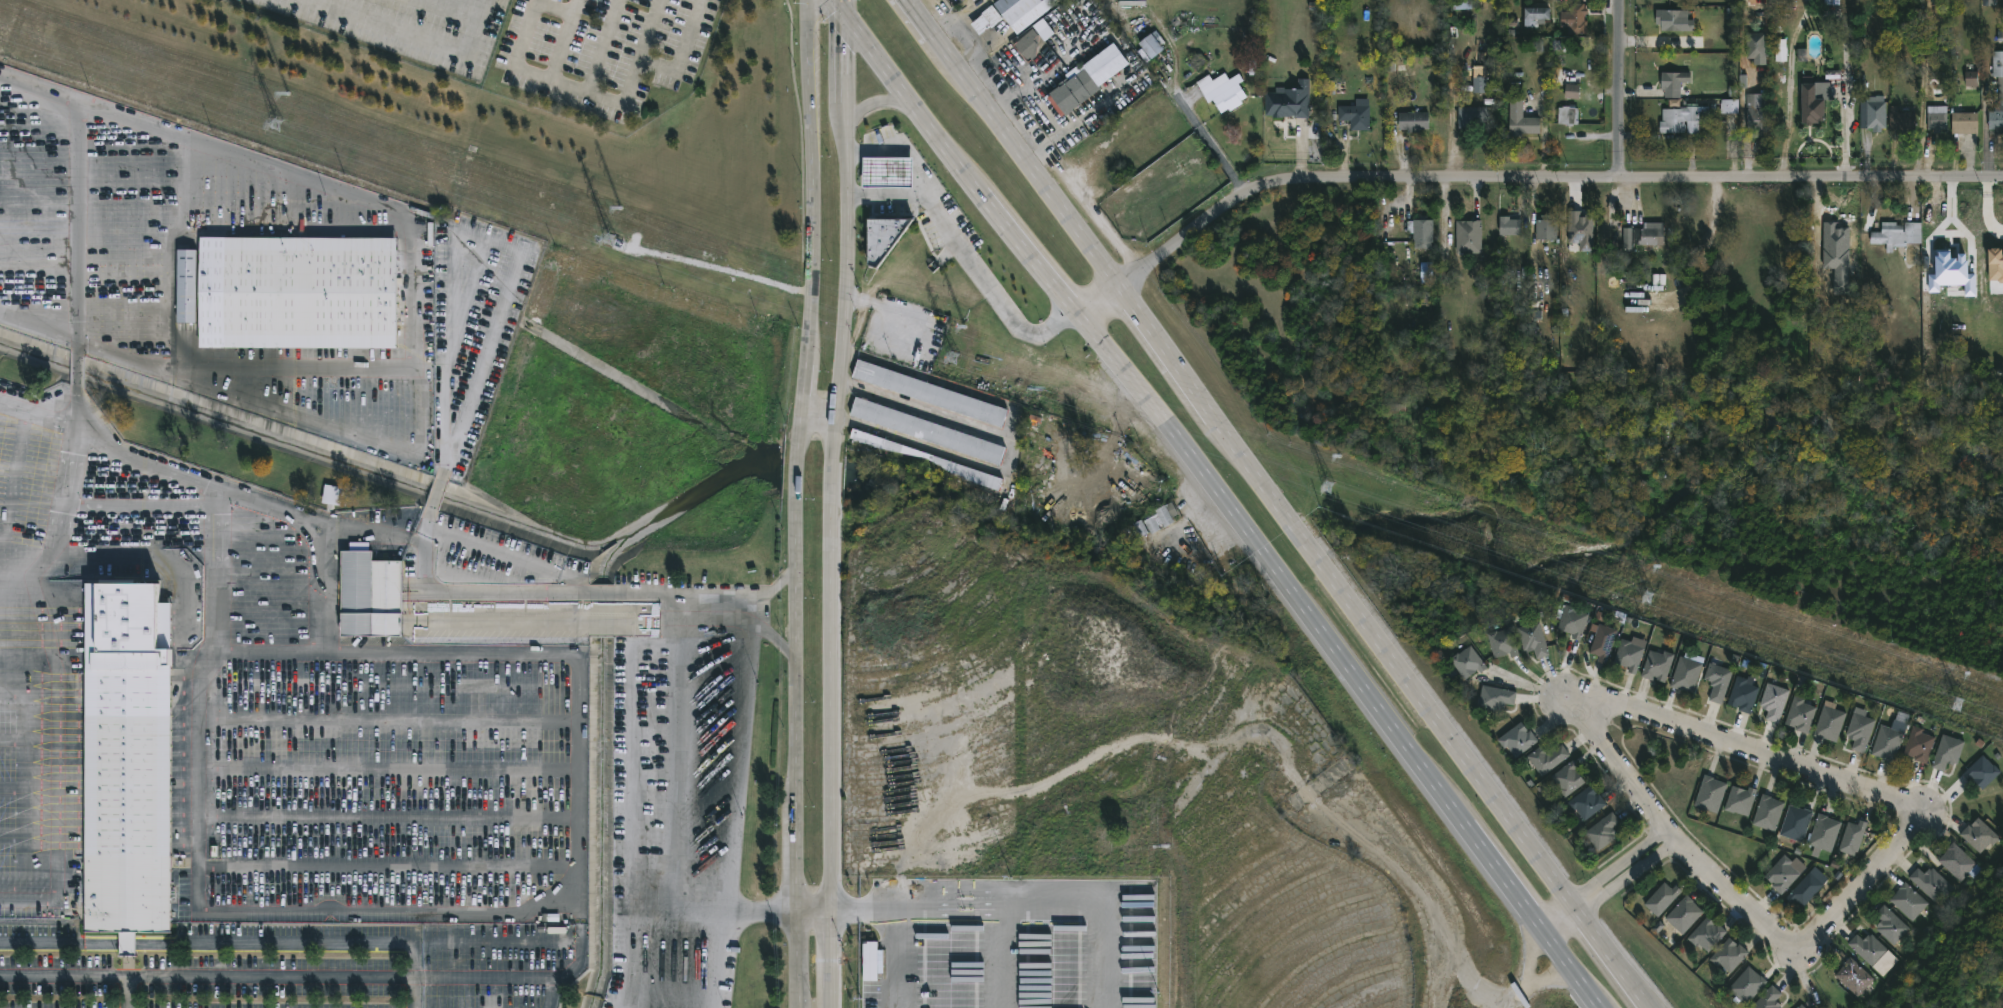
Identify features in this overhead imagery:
road: (846, 7)
building: (1015, 8)
building: (1538, 13)
road: (1819, 13)
traffic signals: (847, 15)
building: (1578, 18)
building: (986, 19)
building: (1674, 21)
building: (1152, 44)
road: (603, 45)
building: (1033, 45)
building: (1757, 46)
building: (1780, 50)
parking lot: (603, 51)
building: (1971, 78)
building: (1087, 79)
building: (1675, 83)
building: (1479, 84)
road: (1616, 90)
building: (2000, 90)
building: (1223, 91)
building: (1571, 91)
building: (1815, 99)
road: (619, 100)
road: (883, 101)
building: (1289, 101)
road: (1045, 106)
building: (1726, 106)
building: (1874, 113)
building: (1757, 114)
building: (1568, 115)
building: (1356, 116)
building: (1472, 117)
building: (1937, 117)
building: (1684, 118)
building: (1522, 119)
building: (1902, 119)
building: (1414, 121)
building: (1965, 122)
power tower: (274, 128)
road: (1214, 149)
building: (887, 171)
gas station: (887, 171)
road: (82, 180)
road: (1518, 181)
road: (815, 213)
building: (1511, 225)
building: (1547, 226)
building: (1831, 228)
road: (850, 230)
building: (1581, 230)
building: (1421, 231)
building: (1898, 234)
building: (884, 236)
building: (1469, 236)
road: (484, 238)
building: (1639, 238)
power tower: (610, 245)
road: (967, 257)
building: (1833, 261)
building: (1995, 265)
building: (1426, 272)
building: (1952, 273)
road: (415, 275)
building: (185, 285)
building: (297, 291)
road: (39, 325)
building: (424, 342)
power tower: (954, 360)
road: (77, 368)
building: (929, 393)
road: (76, 402)
road: (38, 404)
building: (1392, 404)
road: (925, 410)
road: (818, 418)
building: (927, 431)
road: (1012, 437)
road: (797, 462)
building: (967, 473)
park: (1704, 474)
road: (831, 491)
road: (437, 494)
power tower: (1329, 494)
building: (332, 495)
road: (1227, 500)
road: (1279, 503)
road: (71, 515)
building: (1160, 517)
road: (427, 520)
building: (359, 546)
road: (545, 556)
road: (772, 590)
building: (370, 593)
power tower: (1647, 606)
building: (1574, 621)
road: (773, 637)
building: (1533, 639)
road: (633, 642)
building: (1503, 642)
building: (1603, 643)
road: (267, 649)
road: (376, 650)
building: (1630, 654)
building: (1468, 661)
building: (1659, 664)
building: (1687, 674)
building: (1720, 680)
building: (1744, 694)
building: (1497, 696)
building: (1774, 701)
power tower: (1953, 710)
building: (1800, 715)
building: (1830, 723)
building: (1860, 731)
building: (1519, 739)
road: (1748, 742)
building: (1888, 743)
building: (1920, 745)
building: (1948, 751)
road: (798, 753)
building: (126, 757)
building: (1549, 757)
building: (1983, 771)
road: (831, 773)
road: (681, 776)
building: (1570, 778)
building: (1711, 794)
building: (1742, 799)
building: (1588, 802)
building: (1769, 812)
building: (1797, 823)
building: (1604, 830)
road: (1673, 833)
building: (1824, 834)
building: (1980, 835)
building: (1854, 836)
building: (1960, 861)
building: (1785, 872)
road: (1605, 875)
road: (1861, 878)
building: (1931, 882)
road: (1613, 885)
road: (196, 886)
building: (1807, 887)
building: (1663, 898)
road: (1023, 900)
building: (1910, 900)
road: (815, 914)
building: (1685, 914)
building: (1892, 925)
building: (873, 933)
building: (1708, 933)
road: (327, 941)
building: (1874, 952)
building: (1730, 954)
road: (894, 958)
road: (632, 959)
road: (711, 960)
building: (872, 961)
parking lot: (288, 965)
road: (415, 974)
building: (1855, 976)
road: (207, 978)
building: (1748, 985)
road: (127, 993)
building: (1769, 999)
building: (1803, 1006)
railway: (2001, 1006)

